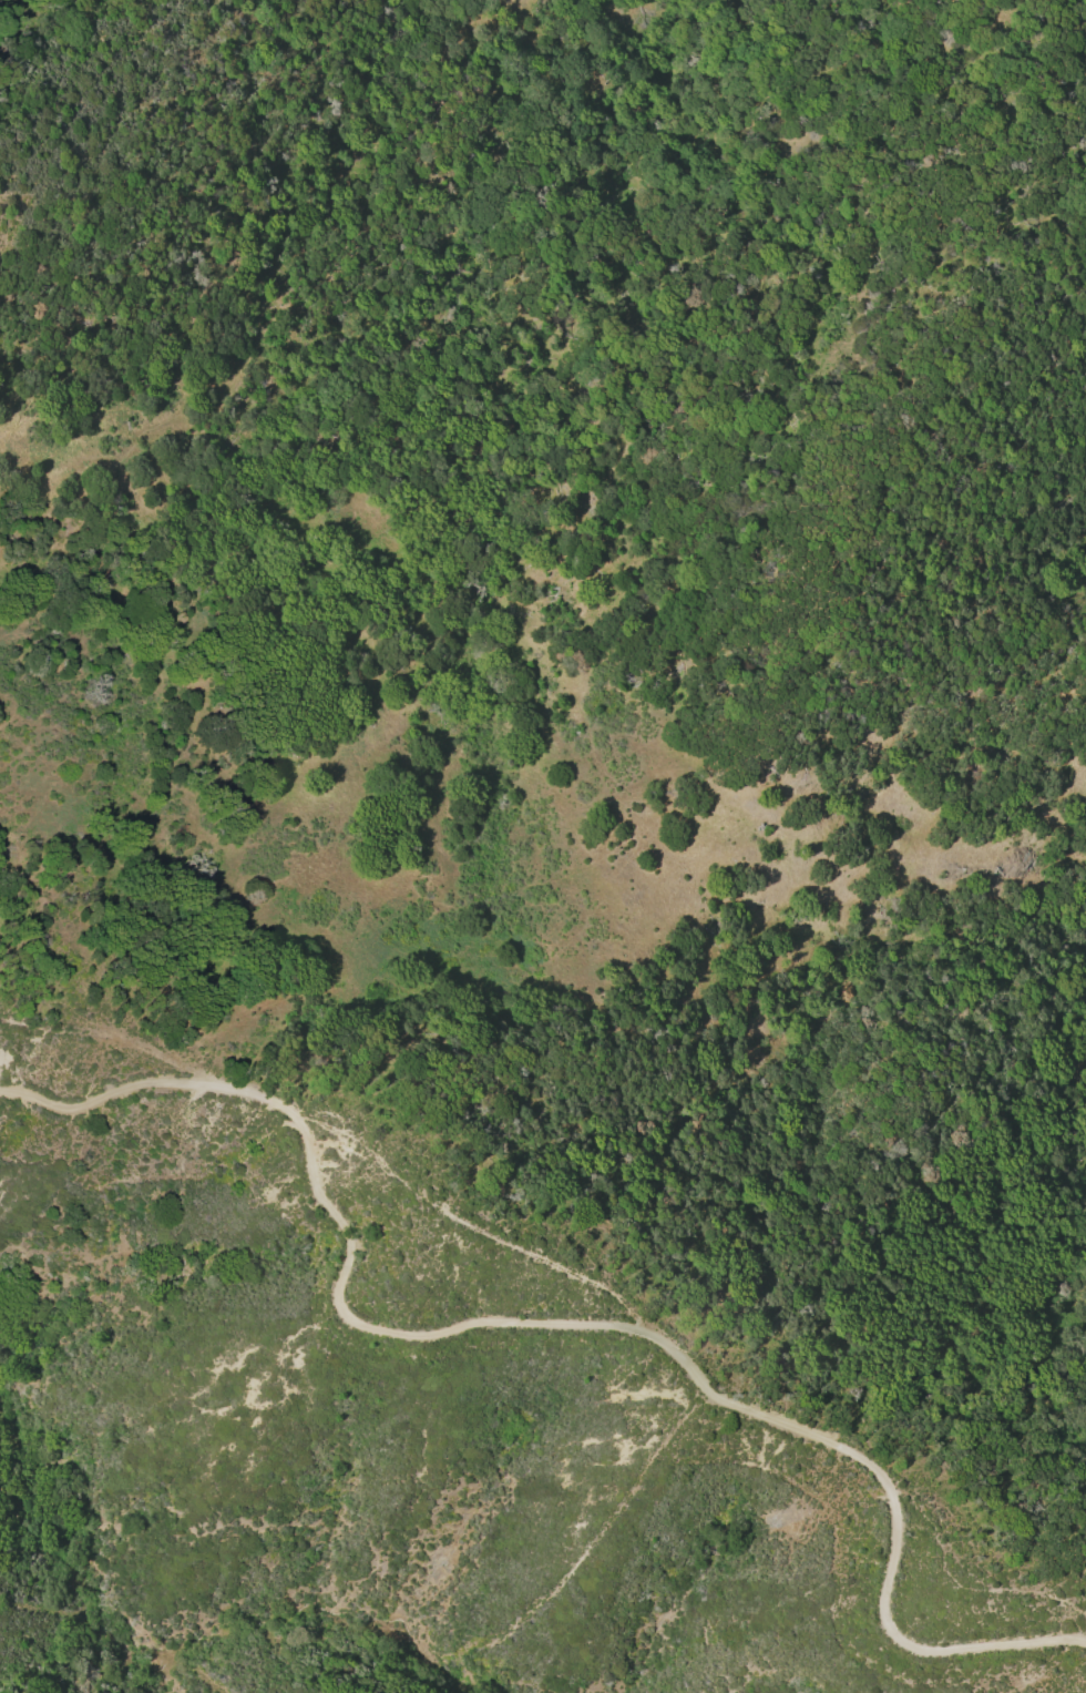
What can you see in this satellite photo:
road: (590, 38)
road: (294, 304)
road: (552, 1323)

